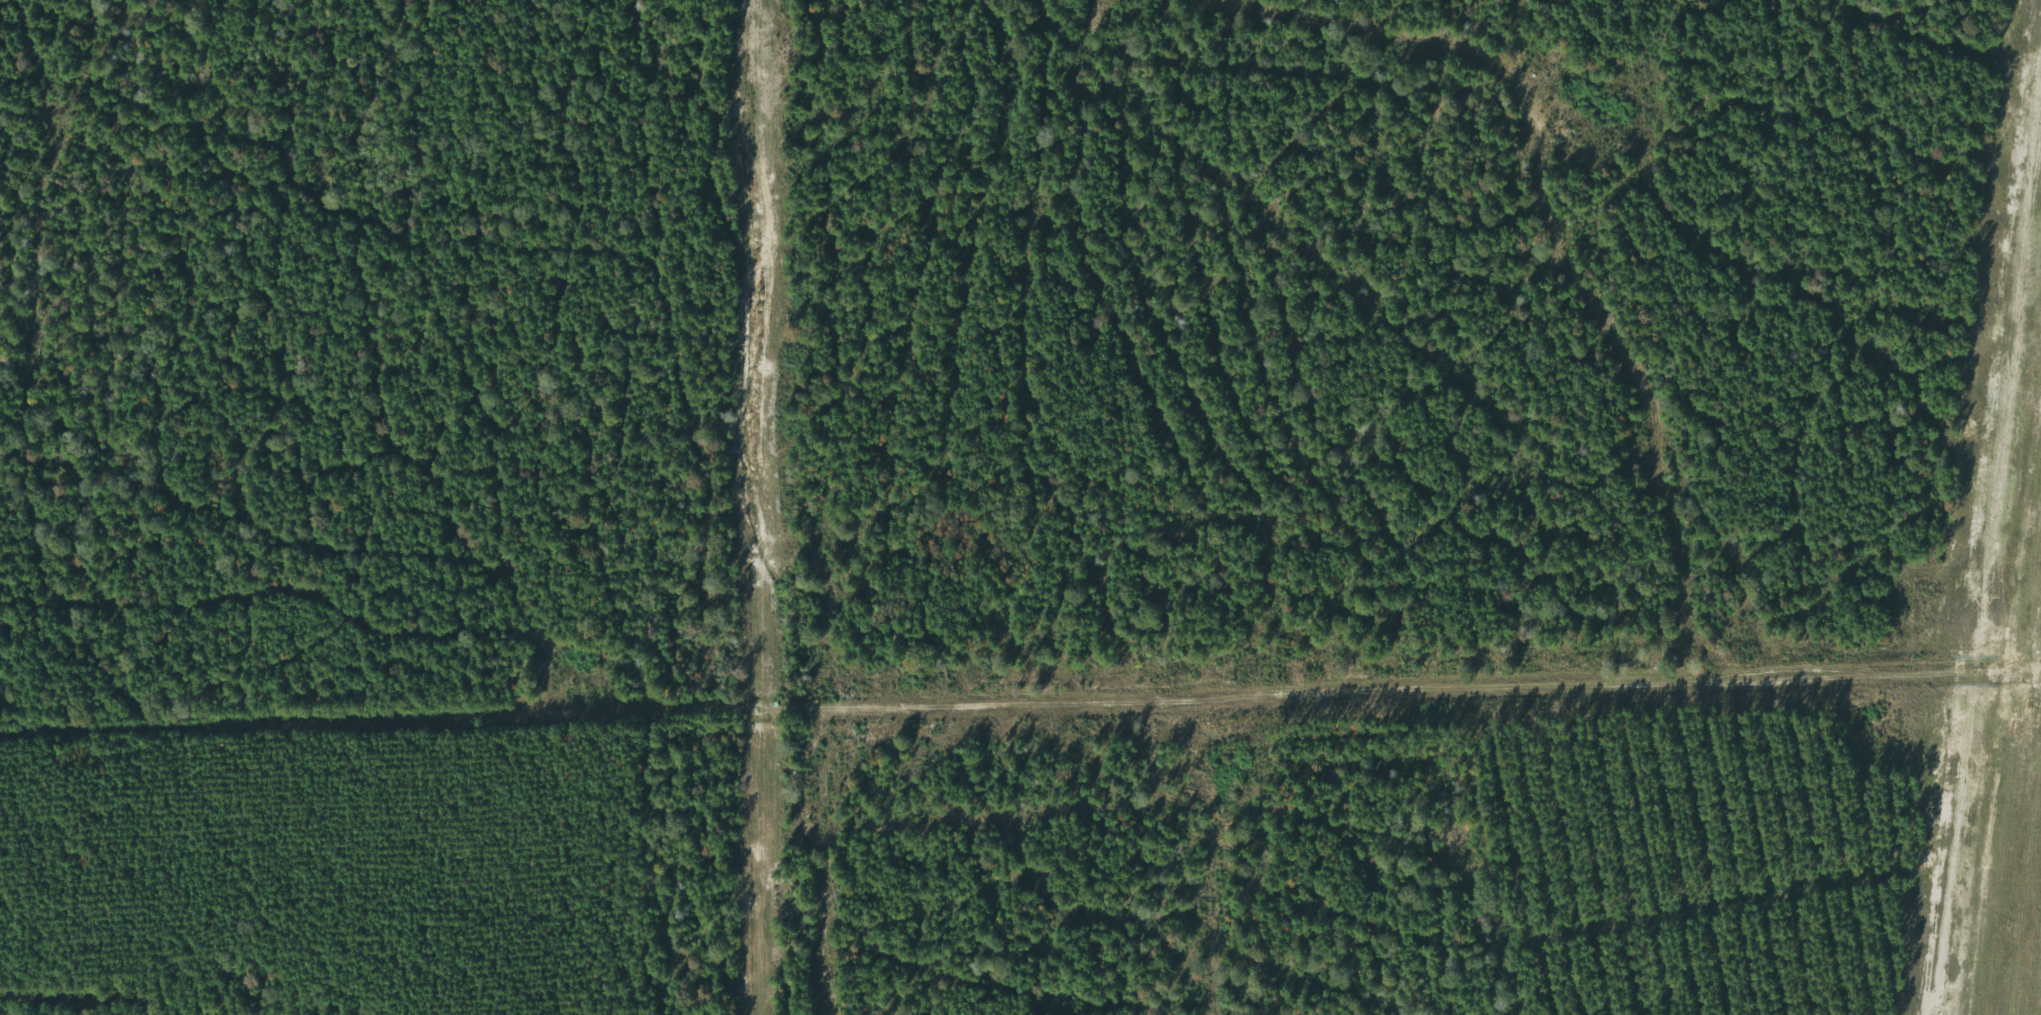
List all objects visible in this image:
road: (1020, 684)

